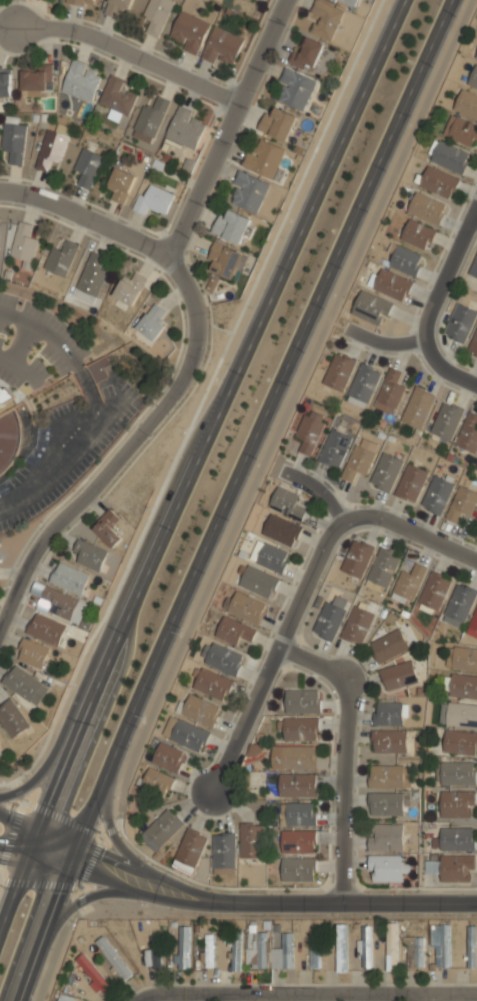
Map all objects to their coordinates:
building: (82, 2)
building: (350, 2)
building: (116, 6)
building: (156, 15)
building: (325, 18)
building: (189, 31)
building: (222, 45)
road: (123, 49)
building: (306, 54)
building: (476, 55)
building: (36, 78)
building: (473, 78)
building: (80, 81)
building: (5, 82)
building: (296, 89)
building: (117, 98)
building: (467, 104)
building: (149, 120)
building: (278, 123)
road: (224, 126)
building: (185, 127)
building: (461, 131)
building: (14, 142)
building: (51, 150)
building: (264, 157)
building: (450, 157)
building: (88, 167)
building: (438, 182)
building: (122, 185)
building: (248, 192)
building: (153, 199)
building: (427, 208)
road: (84, 216)
building: (231, 226)
building: (417, 233)
building: (24, 244)
building: (61, 258)
building: (404, 259)
building: (225, 260)
building: (474, 267)
road: (447, 274)
building: (91, 278)
building: (392, 284)
building: (130, 288)
building: (371, 307)
road: (17, 317)
building: (152, 322)
building: (460, 323)
road: (337, 324)
parking lot: (56, 337)
road: (384, 342)
building: (473, 345)
road: (19, 350)
building: (98, 368)
road: (444, 369)
building: (338, 372)
road: (27, 373)
building: (363, 385)
building: (389, 393)
building: (5, 395)
road: (200, 402)
building: (417, 409)
road: (281, 418)
building: (447, 422)
road: (87, 423)
building: (310, 429)
building: (468, 434)
building: (7, 438)
road: (126, 445)
building: (334, 448)
building: (360, 459)
road: (196, 462)
building: (386, 473)
building: (411, 484)
road: (315, 489)
building: (437, 496)
road: (229, 498)
building: (286, 502)
building: (462, 504)
building: (476, 518)
building: (108, 527)
road: (409, 529)
building: (281, 530)
building: (88, 554)
building: (270, 556)
building: (357, 558)
building: (382, 568)
building: (70, 579)
building: (258, 581)
building: (408, 583)
building: (434, 591)
building: (60, 603)
building: (458, 605)
building: (246, 607)
building: (330, 618)
building: (473, 624)
building: (357, 626)
building: (47, 630)
building: (233, 631)
building: (389, 646)
building: (33, 655)
road: (274, 655)
building: (462, 657)
building: (221, 658)
building: (398, 675)
building: (212, 684)
building: (25, 686)
building: (462, 686)
building: (302, 701)
building: (199, 711)
building: (390, 712)
building: (461, 715)
road: (67, 718)
building: (12, 721)
building: (300, 729)
building: (186, 735)
building: (388, 740)
building: (459, 743)
building: (0, 753)
road: (343, 753)
building: (168, 757)
building: (295, 757)
building: (457, 774)
building: (389, 775)
building: (156, 781)
building: (297, 784)
road: (20, 791)
building: (385, 803)
building: (455, 805)
building: (298, 813)
road: (61, 817)
road: (39, 826)
traffic signals: (39, 826)
building: (161, 829)
road: (11, 833)
road: (112, 834)
building: (385, 836)
building: (456, 839)
building: (251, 841)
building: (298, 841)
traffic signals: (77, 843)
building: (190, 850)
building: (223, 853)
traffic signals: (27, 856)
road: (33, 857)
road: (88, 861)
traffic signals: (66, 868)
building: (387, 868)
building: (455, 868)
building: (298, 869)
road: (153, 874)
road: (38, 883)
road: (147, 891)
road: (81, 899)
road: (354, 903)
road: (59, 941)
building: (441, 945)
building: (365, 946)
building: (392, 946)
building: (472, 946)
building: (342, 947)
building: (183, 948)
building: (236, 950)
building: (287, 950)
building: (209, 951)
building: (315, 951)
building: (257, 952)
building: (414, 952)
building: (156, 957)
building: (113, 958)
building: (93, 973)
road: (312, 997)
building: (65, 998)
road: (275, 999)
road: (426, 999)

